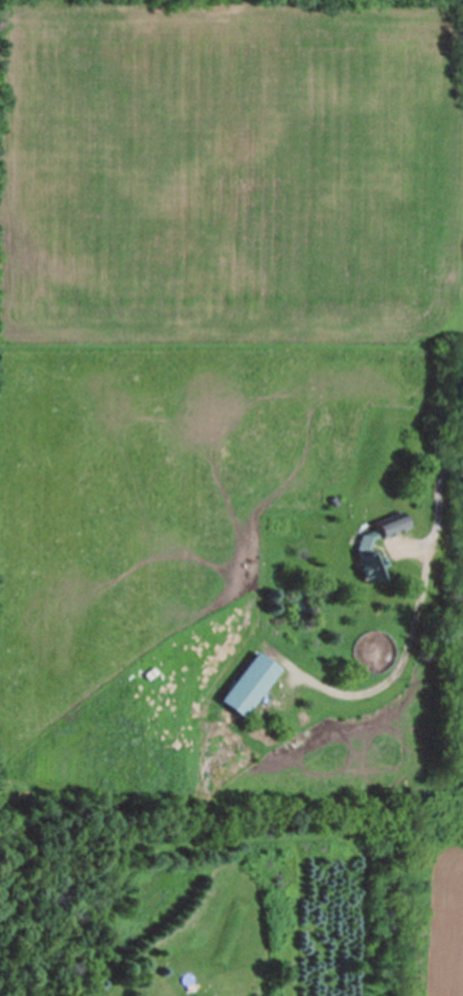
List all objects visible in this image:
building: (369, 557)
building: (250, 682)
road: (430, 904)
building: (203, 995)

